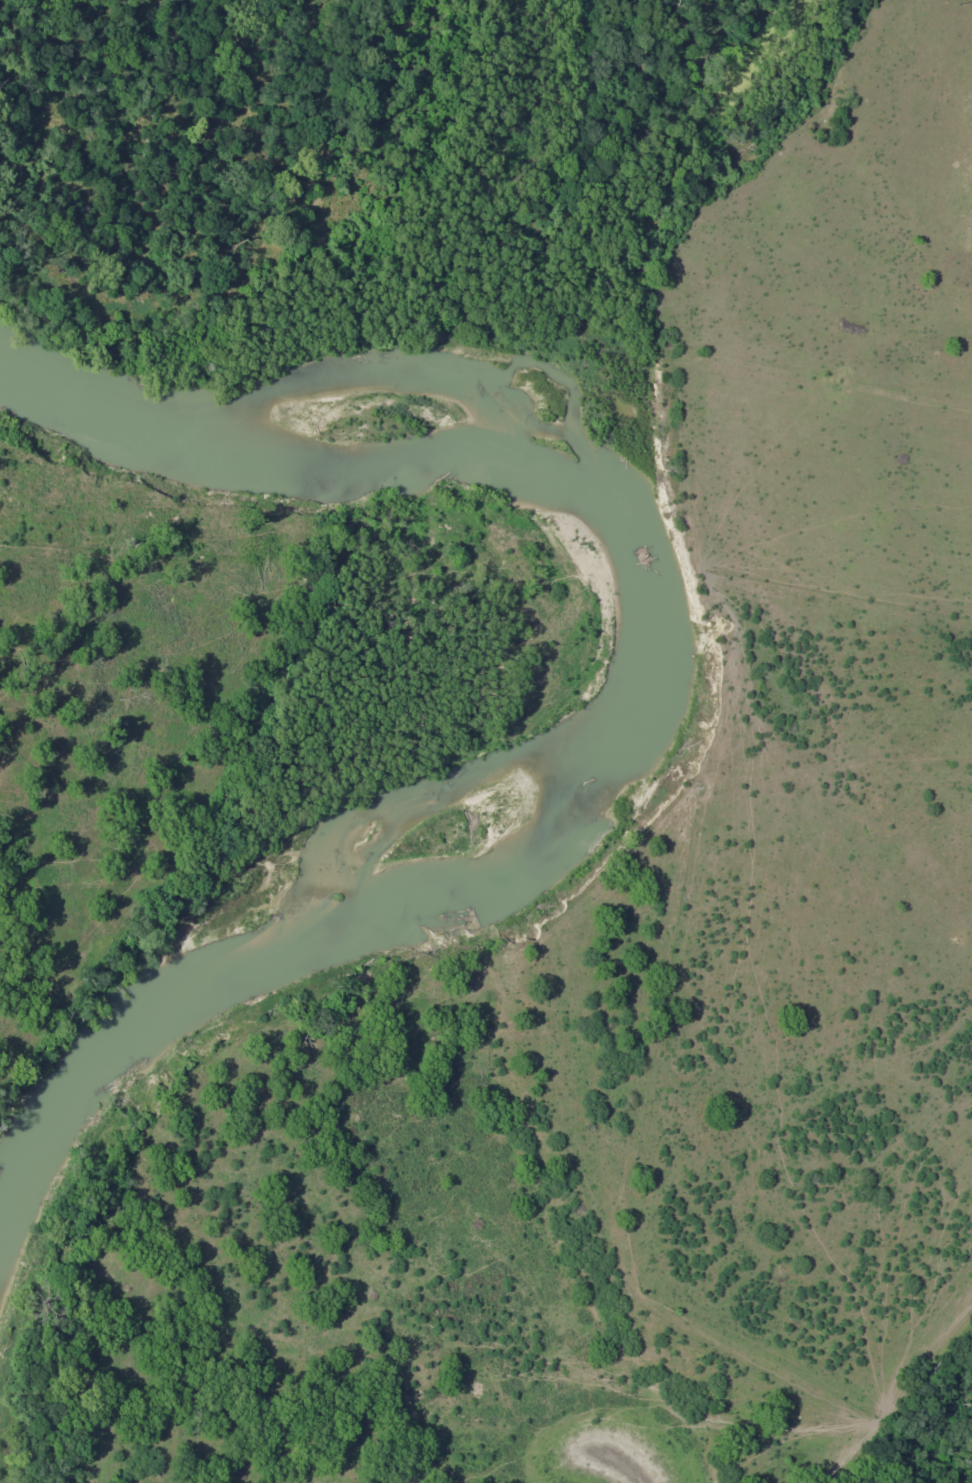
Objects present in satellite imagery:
river: (619, 675)

